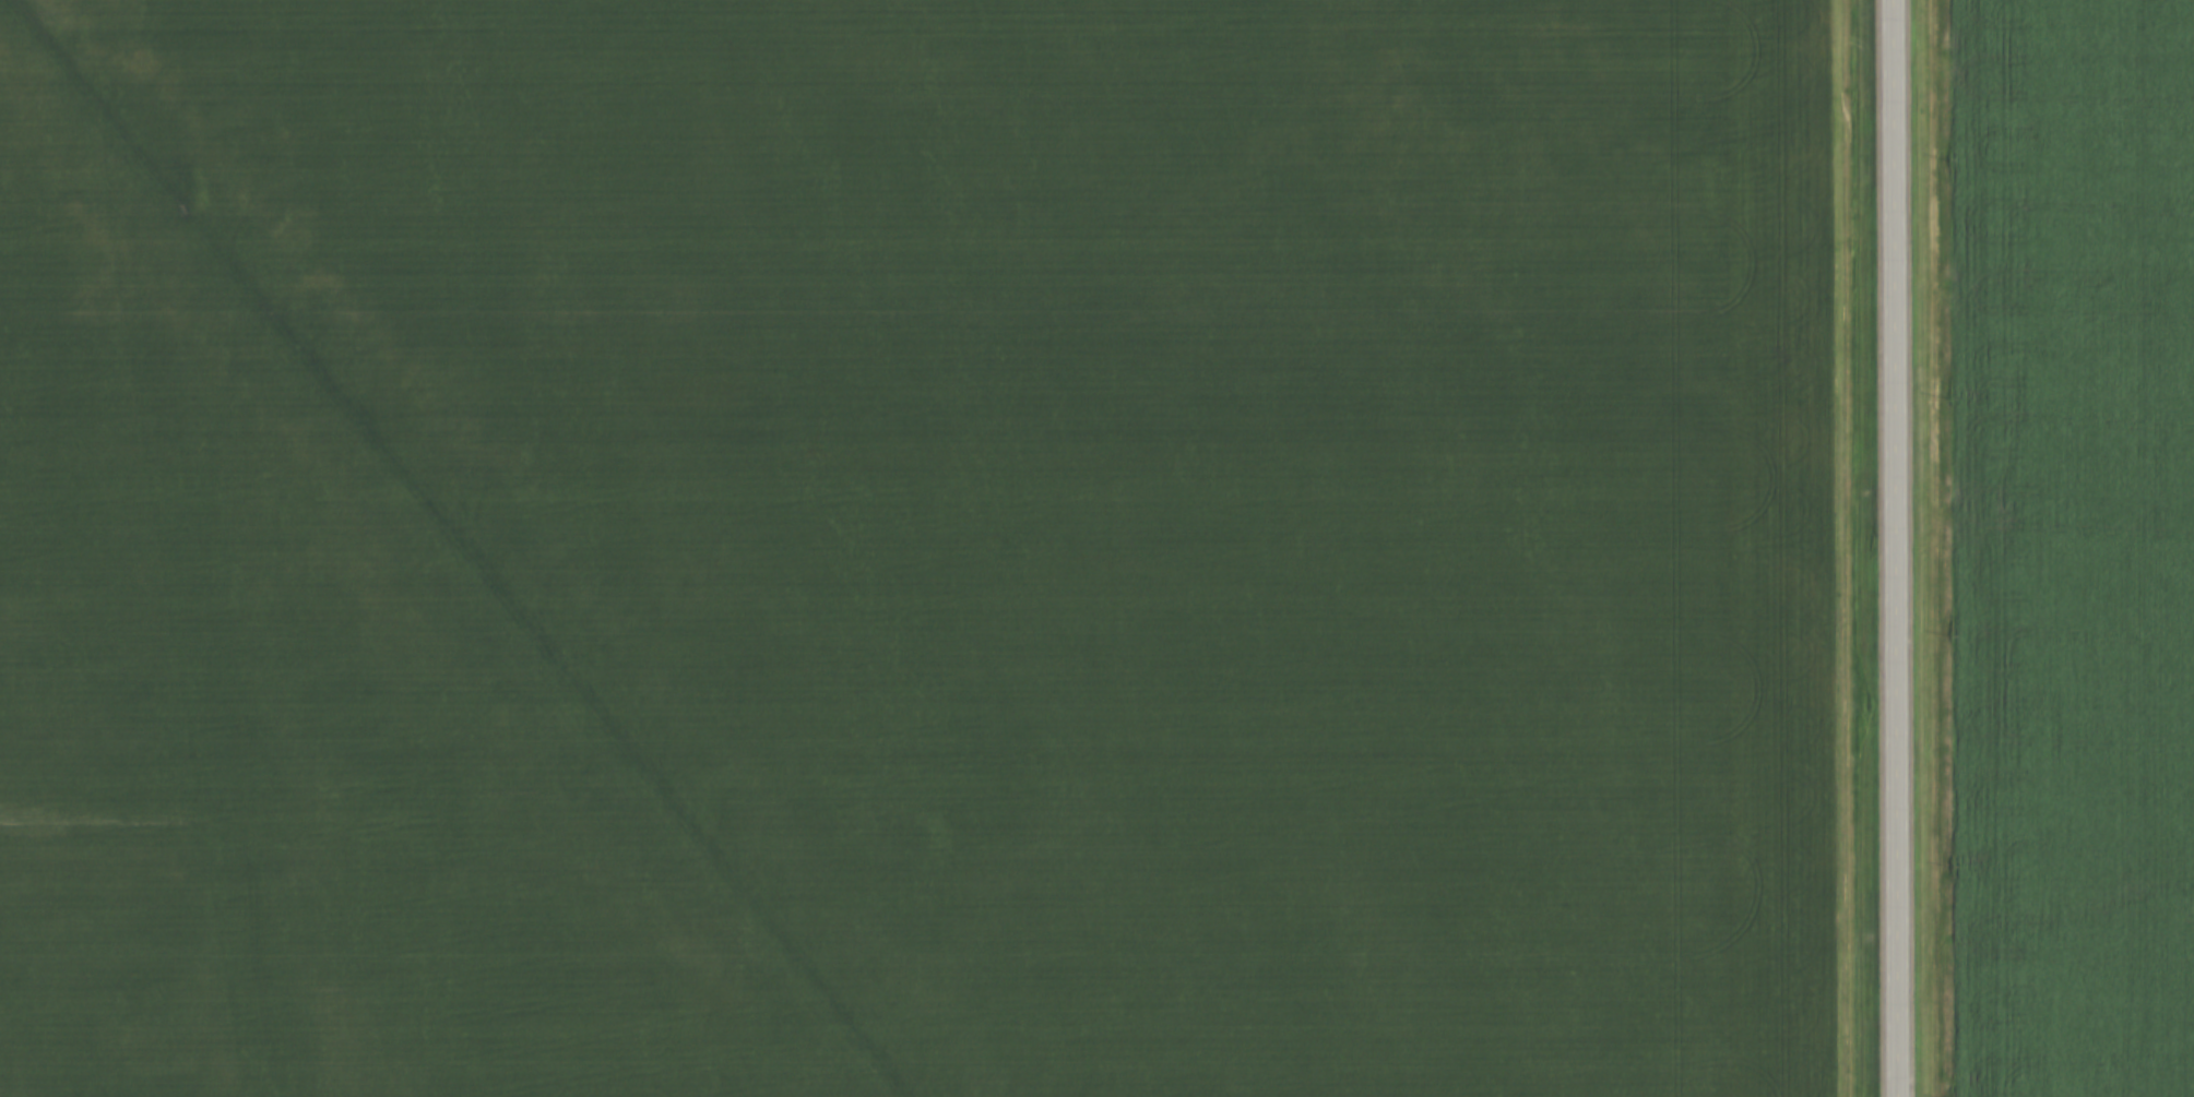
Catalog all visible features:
crop: (917, 548)
road: (1901, 548)

